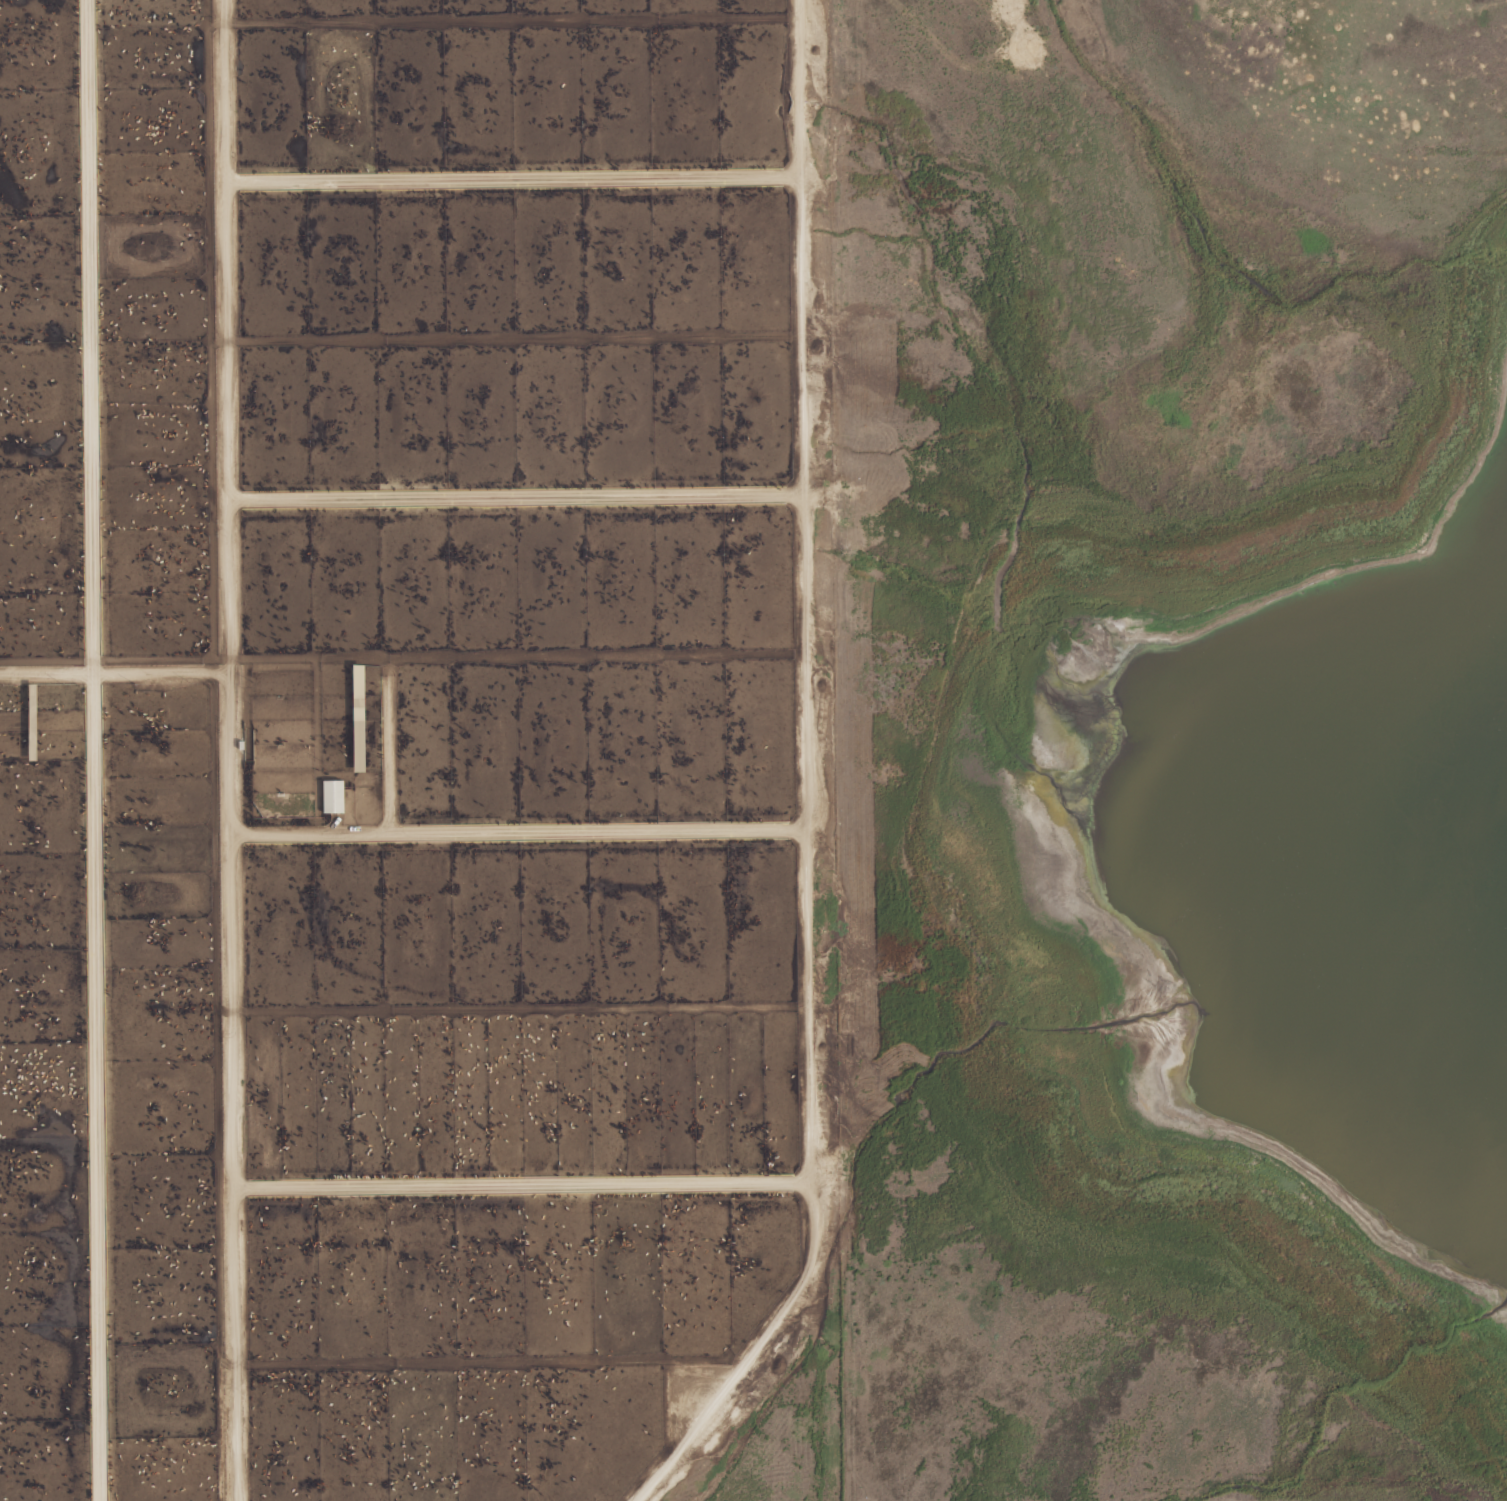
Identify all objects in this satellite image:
road: (46, 675)
building: (30, 725)
road: (89, 750)
crop: (425, 759)
building: (332, 797)

